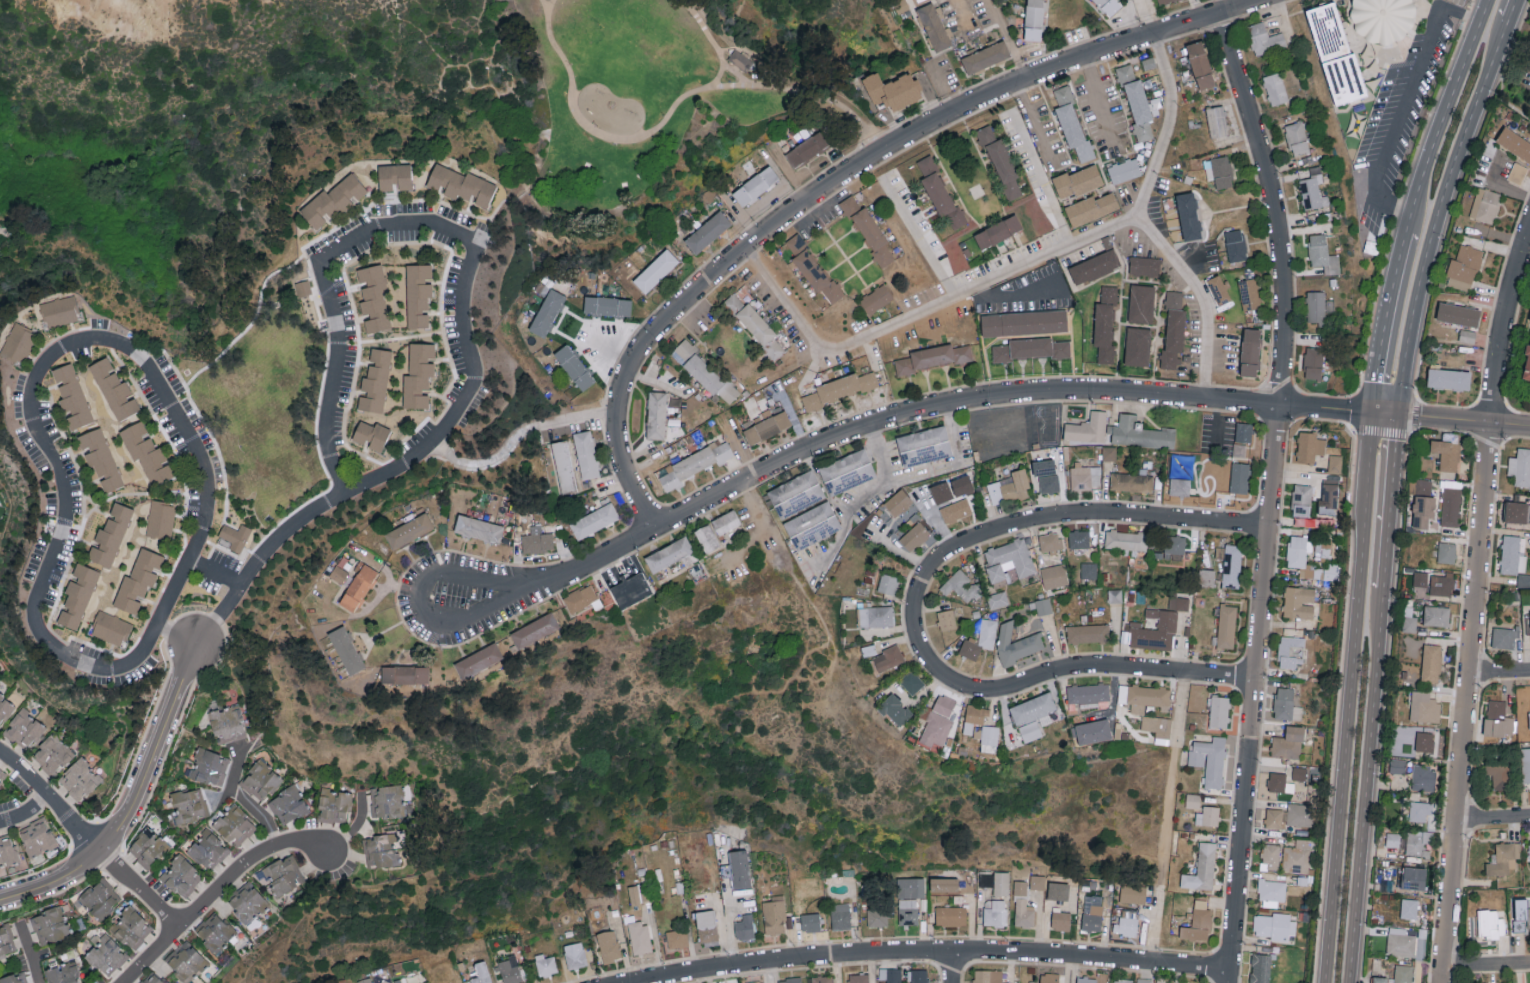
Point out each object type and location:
building: (1163, 1)
parking lot: (1457, 2)
road: (1480, 2)
road: (548, 5)
building: (1109, 6)
road: (1512, 10)
park: (785, 11)
road: (959, 14)
road: (1145, 18)
building: (1034, 20)
building: (1381, 20)
road: (1283, 21)
building: (933, 26)
building: (1264, 38)
road: (1007, 42)
road: (714, 45)
building: (1335, 55)
building: (986, 56)
building: (740, 59)
building: (1200, 65)
building: (1125, 72)
road: (718, 77)
parking lot: (1526, 78)
building: (1275, 88)
road: (945, 89)
building: (892, 90)
road: (1097, 102)
road: (1403, 103)
park: (652, 108)
building: (1139, 108)
park: (230, 113)
road: (1442, 114)
building: (1217, 121)
building: (1072, 124)
road: (852, 127)
road: (1169, 127)
road: (1036, 128)
road: (644, 135)
building: (1297, 137)
building: (1514, 143)
building: (807, 148)
building: (1001, 163)
building: (1124, 170)
building: (1219, 171)
building: (1517, 172)
building: (394, 177)
road: (843, 177)
road: (1042, 178)
building: (1077, 181)
building: (461, 185)
building: (755, 185)
road: (1501, 185)
building: (1313, 189)
building: (940, 193)
building: (332, 200)
building: (1485, 204)
building: (1091, 208)
road: (498, 210)
road: (1438, 213)
building: (1188, 216)
road: (379, 225)
building: (997, 231)
building: (707, 232)
building: (869, 232)
road: (919, 237)
building: (1235, 244)
building: (1323, 254)
building: (1094, 266)
building: (1144, 266)
building: (1464, 267)
building: (812, 268)
road: (1016, 269)
building: (656, 270)
building: (304, 287)
building: (1219, 289)
building: (1109, 293)
building: (1249, 293)
building: (418, 294)
road: (1051, 294)
building: (373, 298)
building: (875, 299)
building: (1141, 304)
building: (606, 305)
building: (1316, 307)
building: (59, 311)
building: (547, 312)
building: (1458, 314)
road: (699, 318)
road: (1382, 322)
building: (1024, 323)
building: (756, 326)
road: (248, 328)
building: (1174, 330)
building: (1104, 331)
building: (1467, 336)
building: (18, 342)
building: (1137, 346)
building: (1024, 348)
building: (1061, 349)
building: (1250, 352)
building: (934, 358)
building: (1313, 362)
building: (574, 367)
building: (1527, 367)
building: (705, 372)
building: (418, 375)
building: (1448, 379)
building: (375, 381)
road: (657, 381)
building: (841, 388)
building: (114, 389)
road: (165, 394)
building: (72, 397)
road: (933, 411)
traffic signals: (1369, 414)
road: (1383, 414)
building: (656, 415)
traffic signals: (1398, 416)
road: (574, 419)
road: (1464, 420)
building: (767, 426)
building: (1087, 429)
building: (1210, 431)
building: (1244, 432)
building: (1139, 433)
building: (371, 435)
road: (65, 445)
building: (923, 446)
building: (1309, 446)
building: (1240, 449)
building: (1447, 451)
building: (1109, 452)
building: (147, 453)
building: (586, 454)
building: (99, 458)
road: (485, 462)
building: (1335, 463)
building: (692, 465)
building: (563, 466)
building: (1520, 466)
building: (847, 472)
road: (922, 473)
building: (1214, 473)
building: (1181, 475)
building: (1086, 476)
building: (1239, 477)
building: (1131, 482)
building: (1049, 484)
building: (1423, 485)
building: (1009, 487)
building: (942, 491)
road: (127, 493)
building: (796, 494)
road: (1270, 495)
building: (1328, 498)
building: (1302, 500)
building: (898, 503)
road: (1390, 506)
building: (1451, 506)
building: (955, 510)
building: (1424, 512)
building: (1517, 512)
road: (845, 517)
road: (1049, 518)
building: (161, 519)
building: (594, 521)
road: (294, 522)
building: (726, 522)
building: (812, 525)
building: (478, 529)
building: (409, 531)
building: (110, 536)
building: (235, 536)
building: (914, 536)
building: (707, 538)
building: (1079, 539)
building: (537, 540)
building: (1126, 540)
building: (1050, 541)
building: (1174, 546)
building: (1446, 552)
building: (1298, 553)
building: (669, 554)
road: (71, 559)
building: (1008, 560)
building: (1232, 565)
building: (1089, 570)
road: (213, 573)
building: (339, 574)
building: (1053, 576)
building: (1206, 577)
building: (1420, 579)
building: (138, 581)
building: (888, 583)
building: (1441, 584)
building: (358, 586)
building: (961, 586)
building: (631, 590)
building: (77, 595)
building: (1114, 595)
road: (416, 599)
building: (582, 599)
building: (997, 600)
building: (1298, 602)
building: (1043, 606)
road: (1477, 606)
building: (876, 616)
building: (1436, 616)
building: (947, 620)
building: (1409, 621)
building: (1158, 626)
building: (1226, 626)
building: (111, 628)
building: (534, 630)
building: (1088, 633)
road: (174, 637)
building: (1504, 637)
building: (980, 639)
building: (1016, 643)
building: (346, 650)
building: (868, 650)
building: (1291, 651)
building: (888, 658)
building: (478, 661)
building: (1431, 664)
road: (1080, 669)
road: (1501, 674)
building: (404, 675)
building: (911, 682)
building: (1088, 693)
building: (1144, 697)
road: (1346, 698)
building: (1286, 705)
building: (1424, 707)
building: (1529, 707)
building: (4, 708)
building: (895, 710)
building: (1219, 711)
building: (1032, 715)
building: (975, 719)
building: (1498, 719)
building: (936, 722)
building: (227, 724)
building: (1158, 728)
building: (24, 729)
building: (1093, 731)
building: (1424, 742)
building: (1288, 743)
building: (53, 754)
building: (1209, 760)
building: (1525, 764)
building: (1397, 765)
building: (209, 767)
building: (1299, 773)
building: (1498, 773)
building: (2, 775)
building: (1422, 777)
building: (79, 779)
building: (260, 780)
building: (1276, 781)
road: (1367, 790)
road: (51, 798)
road: (127, 799)
road: (245, 800)
building: (386, 801)
building: (1194, 801)
building: (189, 805)
building: (333, 806)
road: (23, 809)
building: (1420, 811)
building: (1208, 816)
road: (1167, 817)
road: (1494, 819)
building: (234, 826)
building: (37, 837)
building: (1392, 839)
building: (1417, 841)
building: (1529, 846)
building: (148, 847)
building: (7, 850)
building: (208, 850)
building: (381, 851)
building: (1270, 856)
building: (1297, 856)
building: (1202, 869)
building: (740, 870)
building: (283, 874)
building: (181, 876)
building: (1413, 879)
building: (996, 881)
building: (1037, 881)
road: (137, 887)
building: (917, 887)
road: (212, 890)
building: (1058, 891)
building: (1272, 892)
building: (1133, 893)
building: (634, 895)
building: (101, 898)
building: (248, 901)
building: (1023, 906)
building: (1409, 908)
building: (907, 911)
building: (995, 914)
building: (774, 915)
building: (1521, 915)
building: (840, 916)
building: (877, 916)
building: (950, 916)
building: (1093, 918)
building: (1060, 919)
building: (810, 922)
building: (1490, 923)
building: (51, 926)
building: (706, 926)
building: (1126, 926)
building: (1198, 926)
building: (1275, 926)
building: (744, 927)
building: (131, 928)
building: (214, 933)
building: (640, 938)
building: (677, 939)
building: (7, 941)
building: (1400, 942)
building: (609, 946)
road: (28, 954)
road: (941, 954)
building: (106, 955)
building: (574, 955)
building: (186, 962)
building: (546, 965)
road: (1486, 967)
road: (952, 968)
building: (1260, 968)
building: (510, 971)
building: (63, 973)
building: (481, 973)
building: (890, 974)
building: (1403, 974)
building: (917, 975)
building: (1049, 977)
building: (15, 978)
building: (152, 978)
building: (820, 978)
building: (859, 978)
building: (791, 979)
building: (1086, 979)
building: (365, 980)
building: (1122, 980)
building: (1143, 980)
building: (1379, 980)
building: (756, 981)

